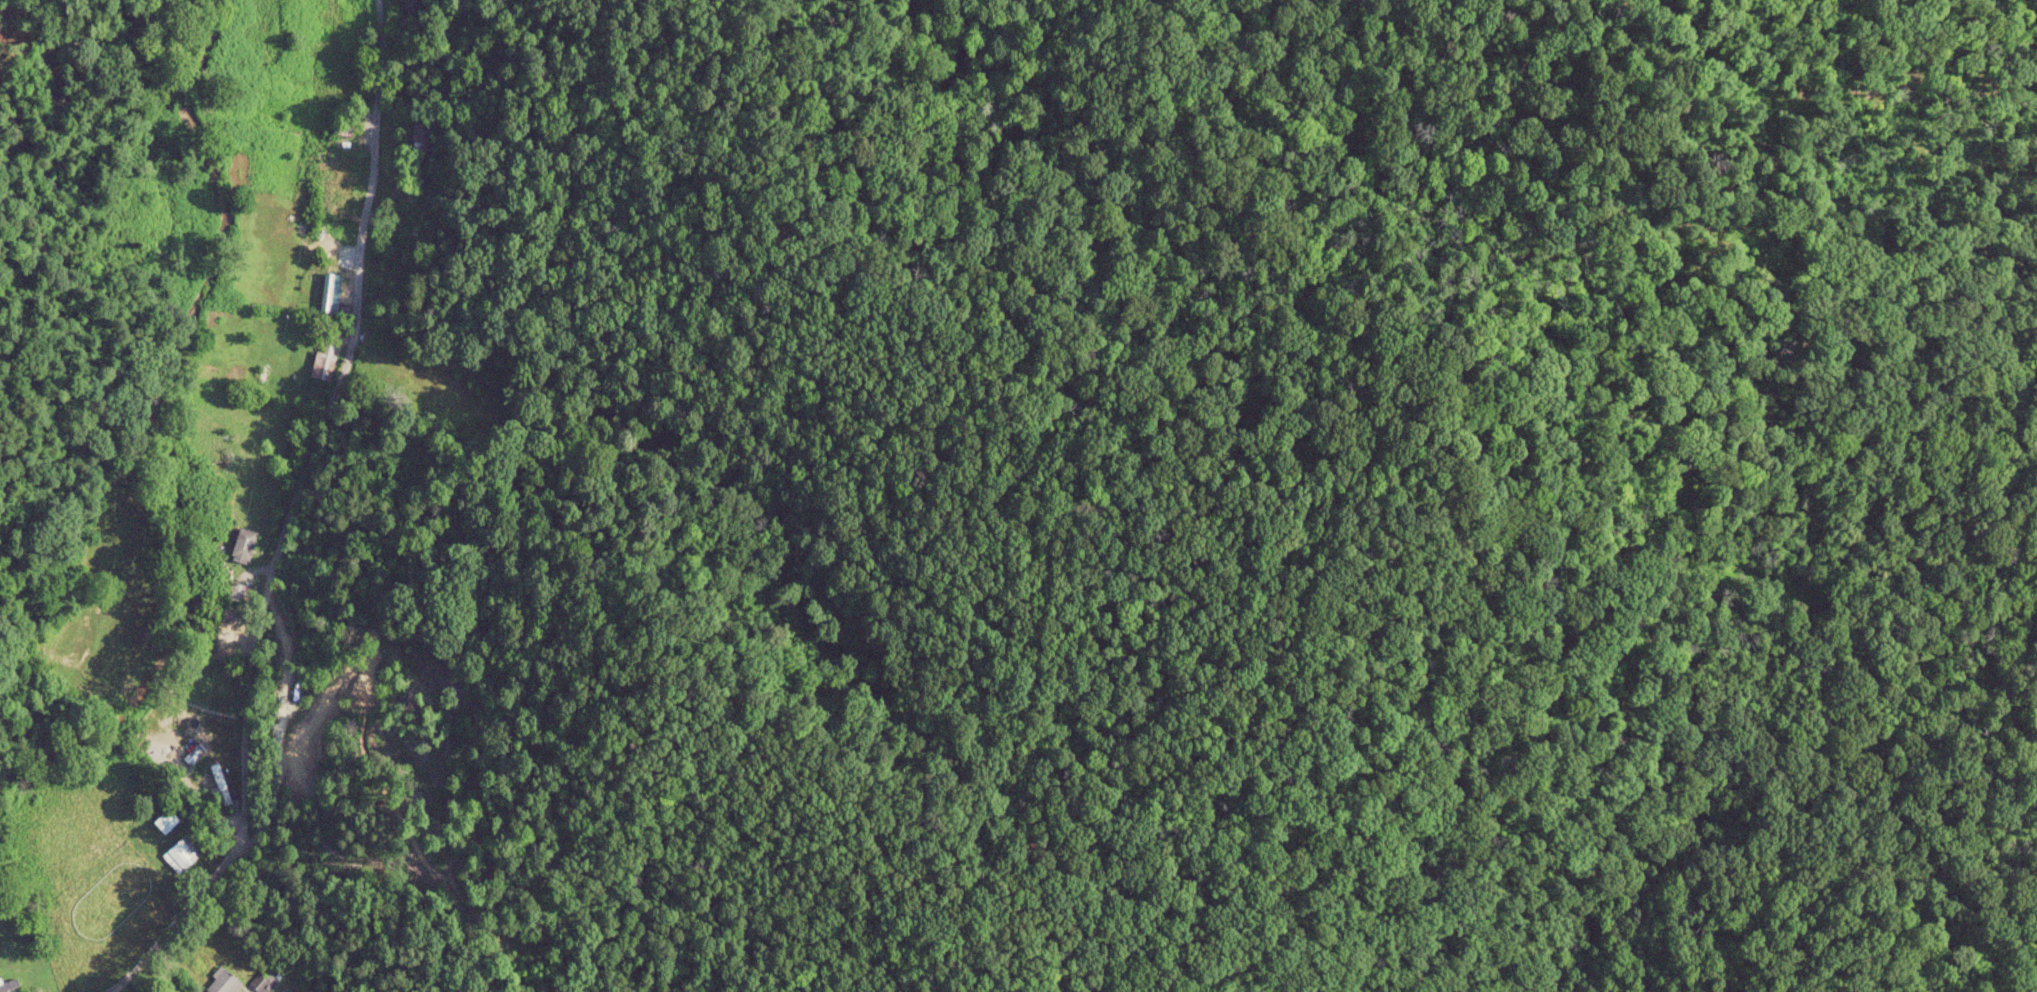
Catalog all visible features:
building: (412, 6)
building: (420, 138)
building: (327, 294)
building: (322, 362)
road: (281, 520)
building: (242, 545)
building: (237, 592)
building: (218, 788)
building: (164, 821)
building: (180, 853)
building: (263, 981)
building: (221, 982)
building: (7, 985)

